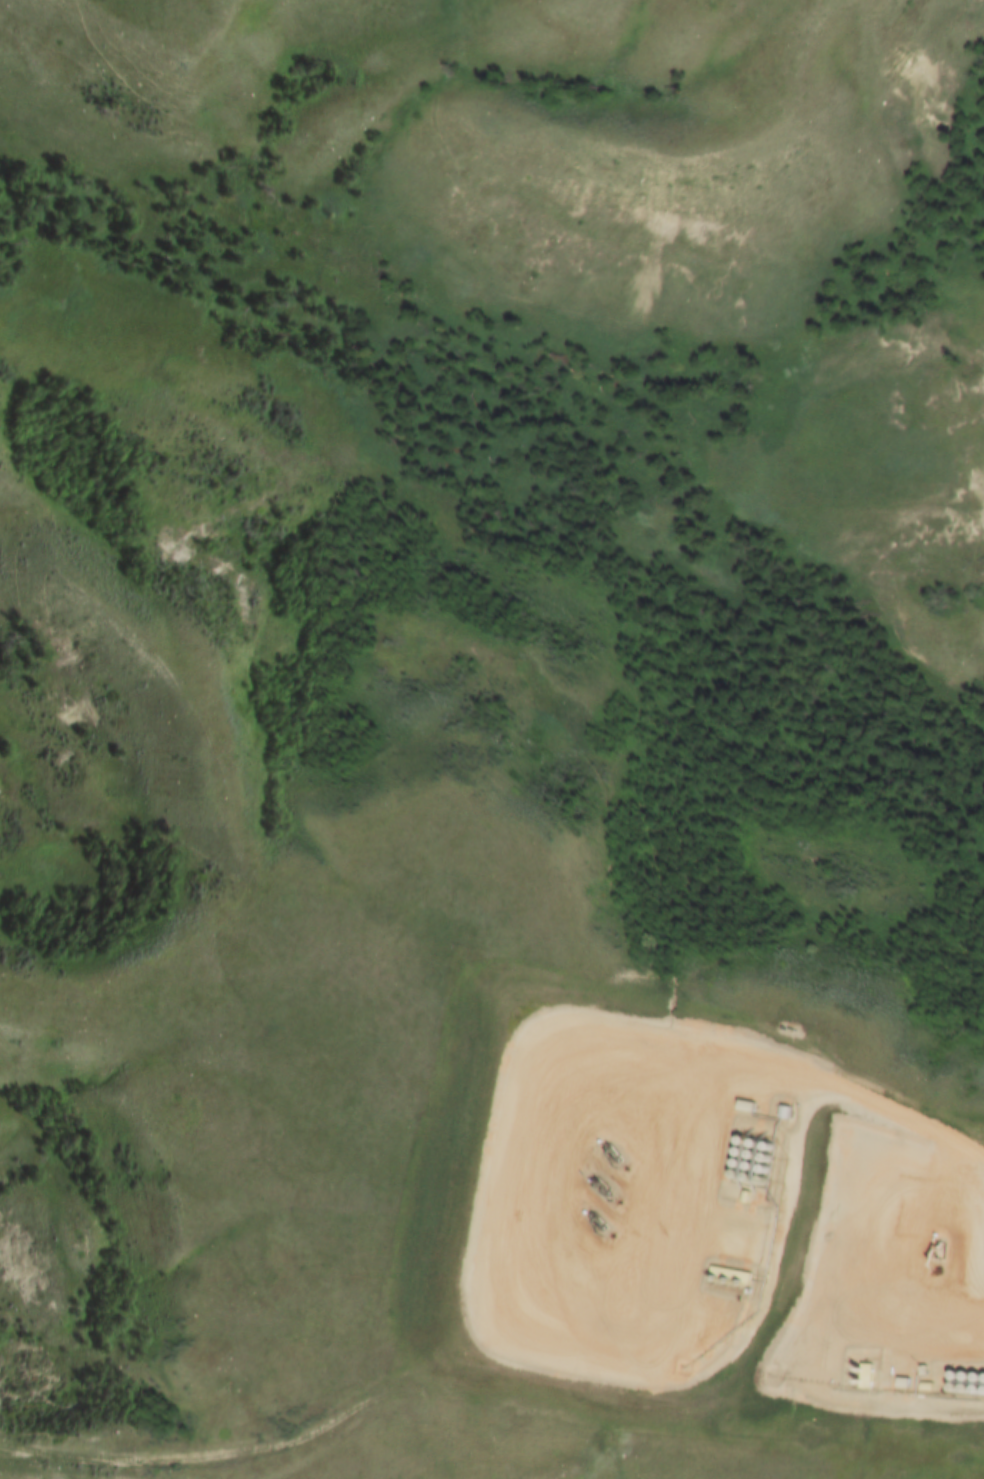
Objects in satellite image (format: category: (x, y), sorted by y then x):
road: (784, 1049)

